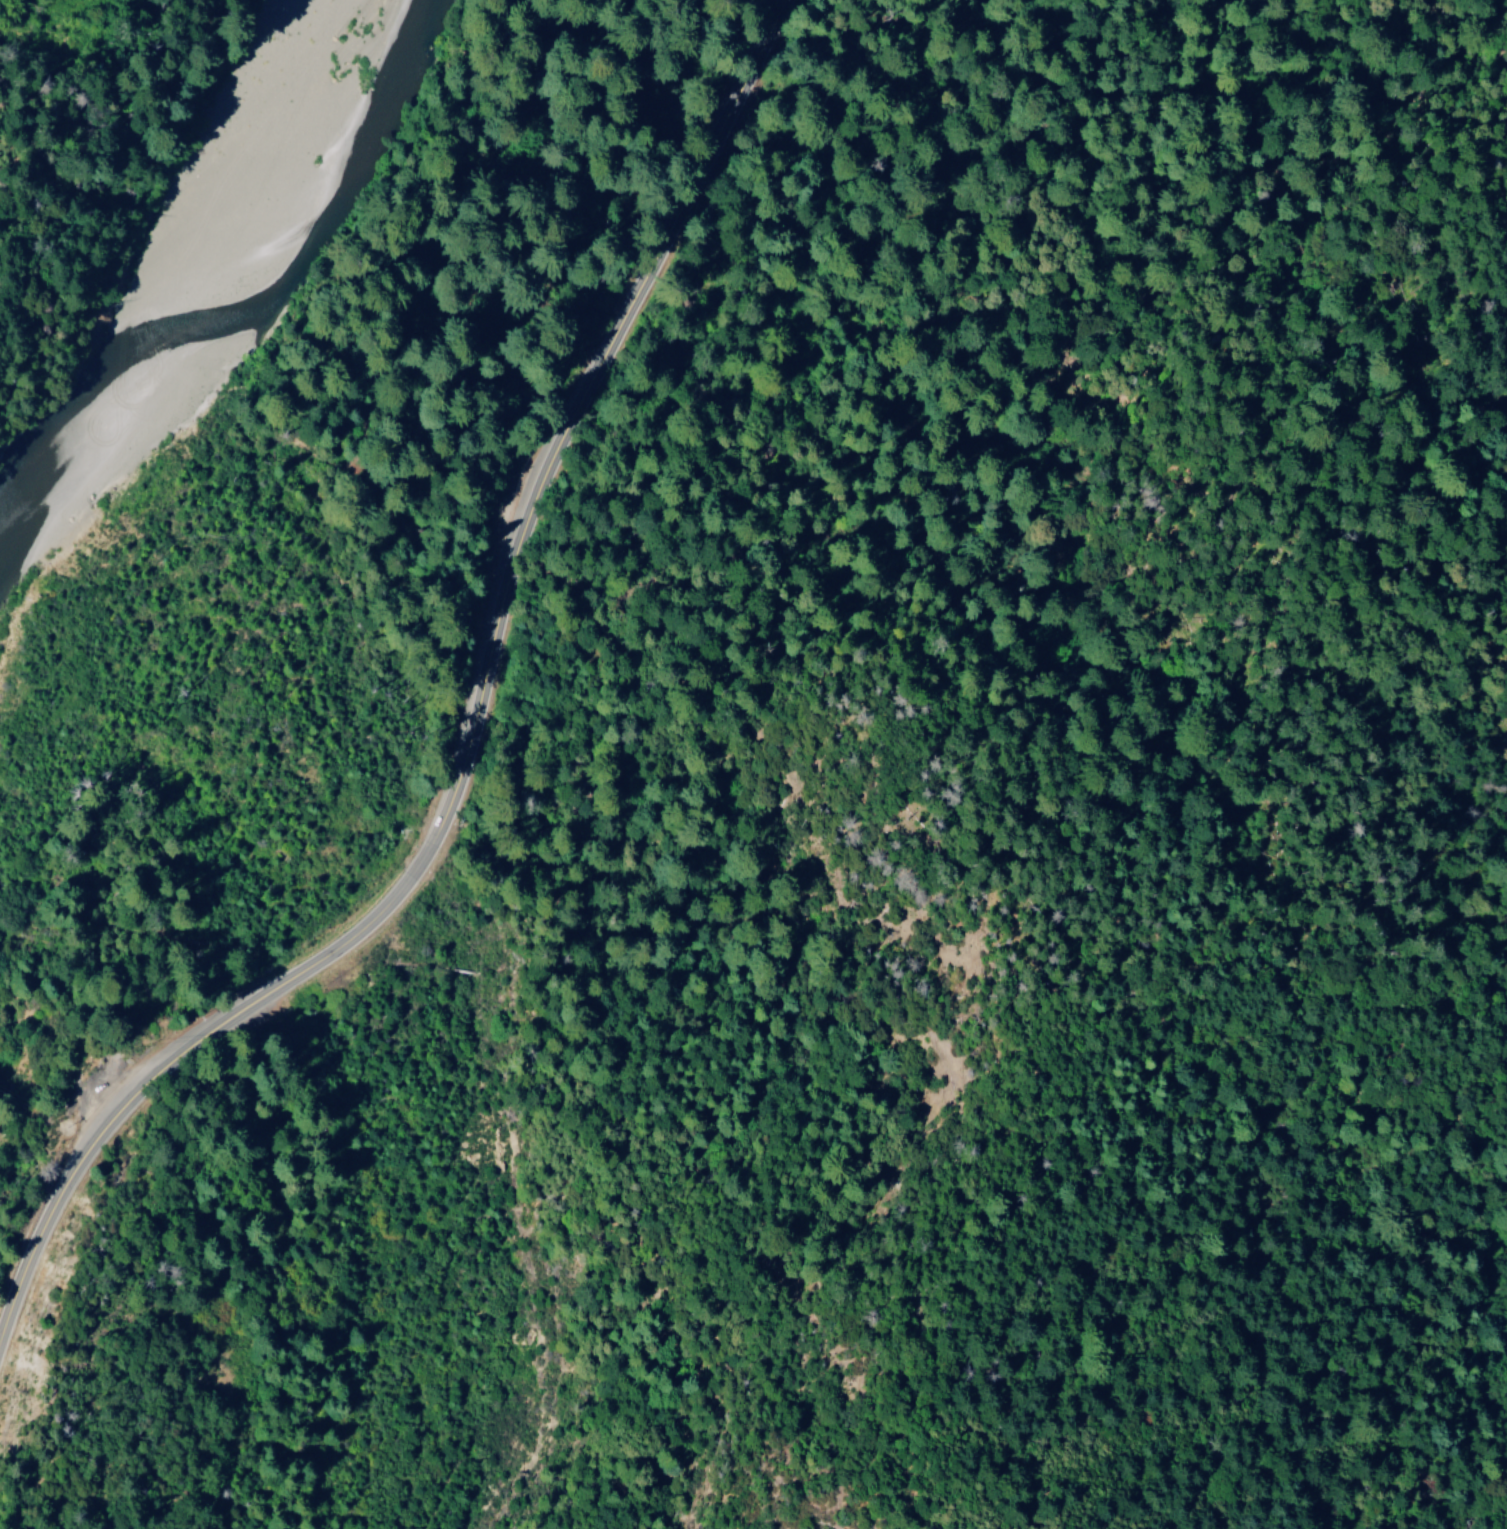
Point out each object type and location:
river: (394, 72)
river: (187, 334)
road: (473, 746)

